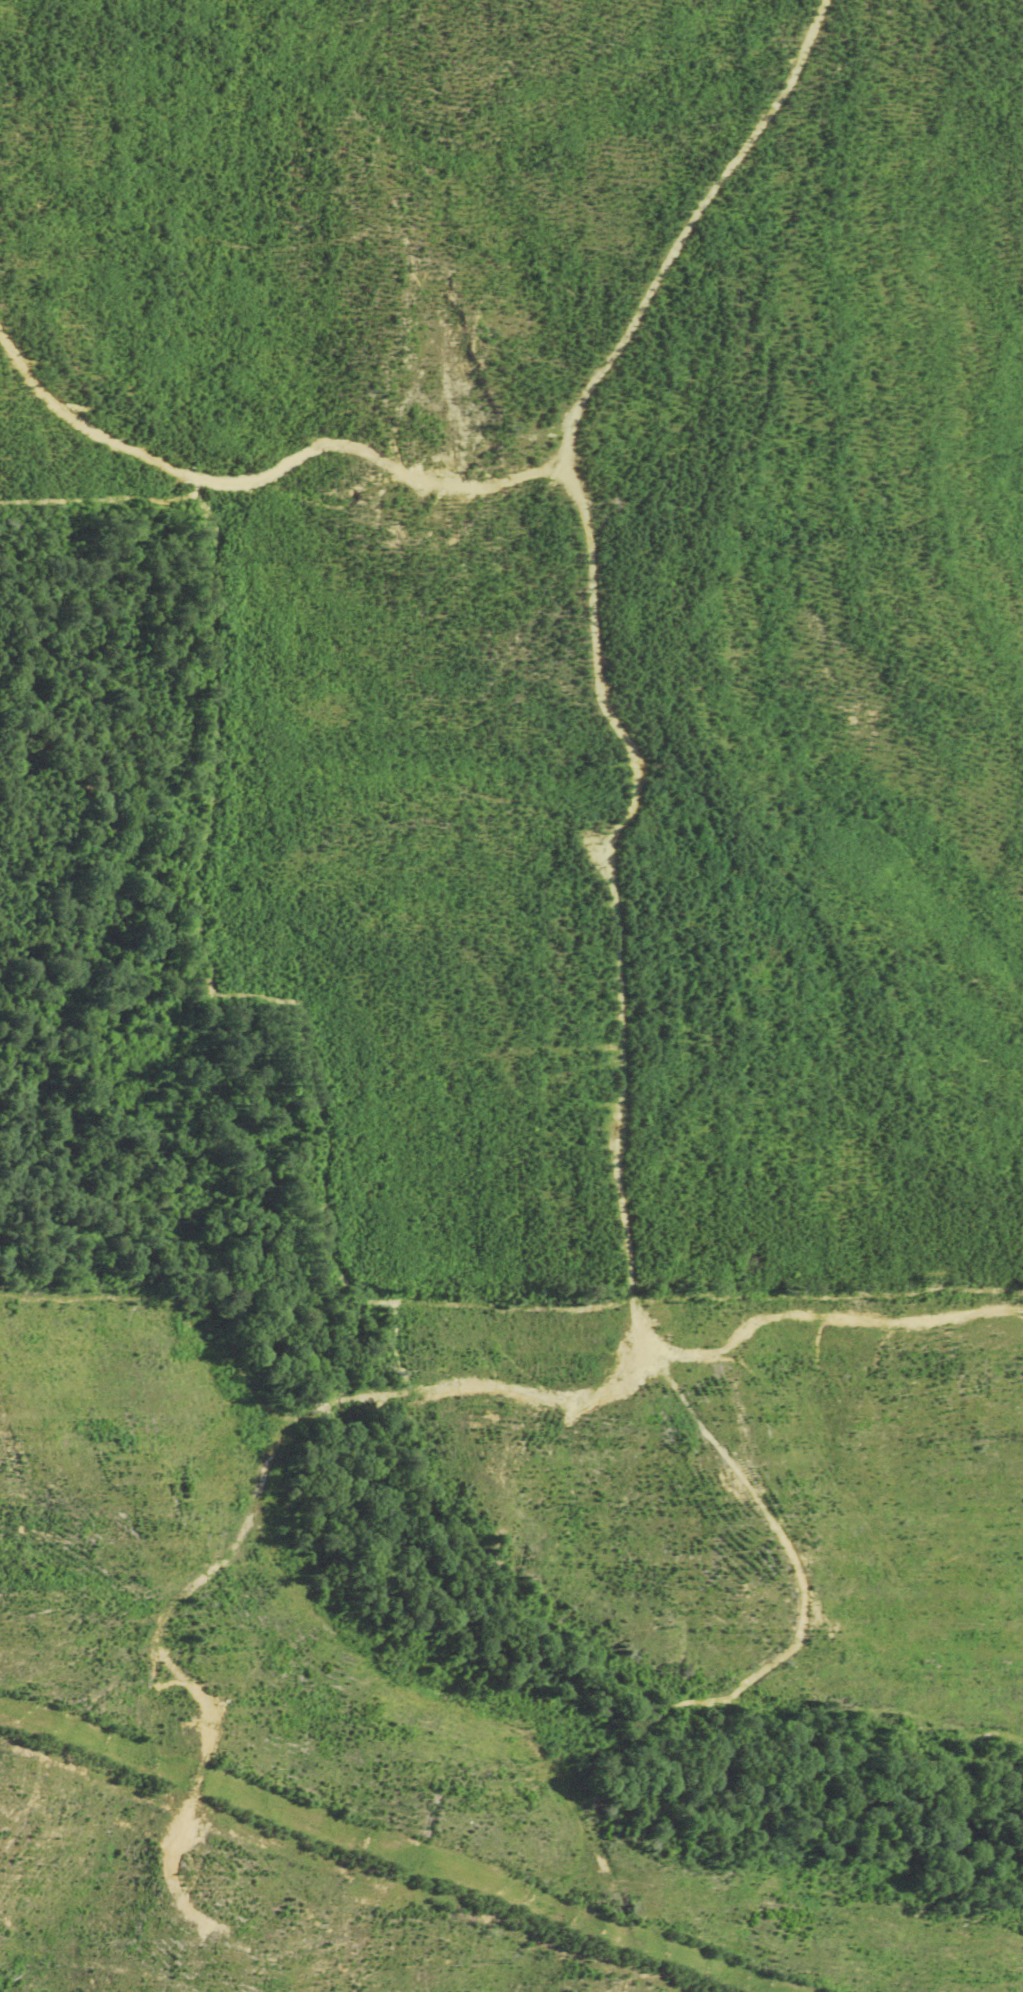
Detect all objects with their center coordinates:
road: (583, 374)

